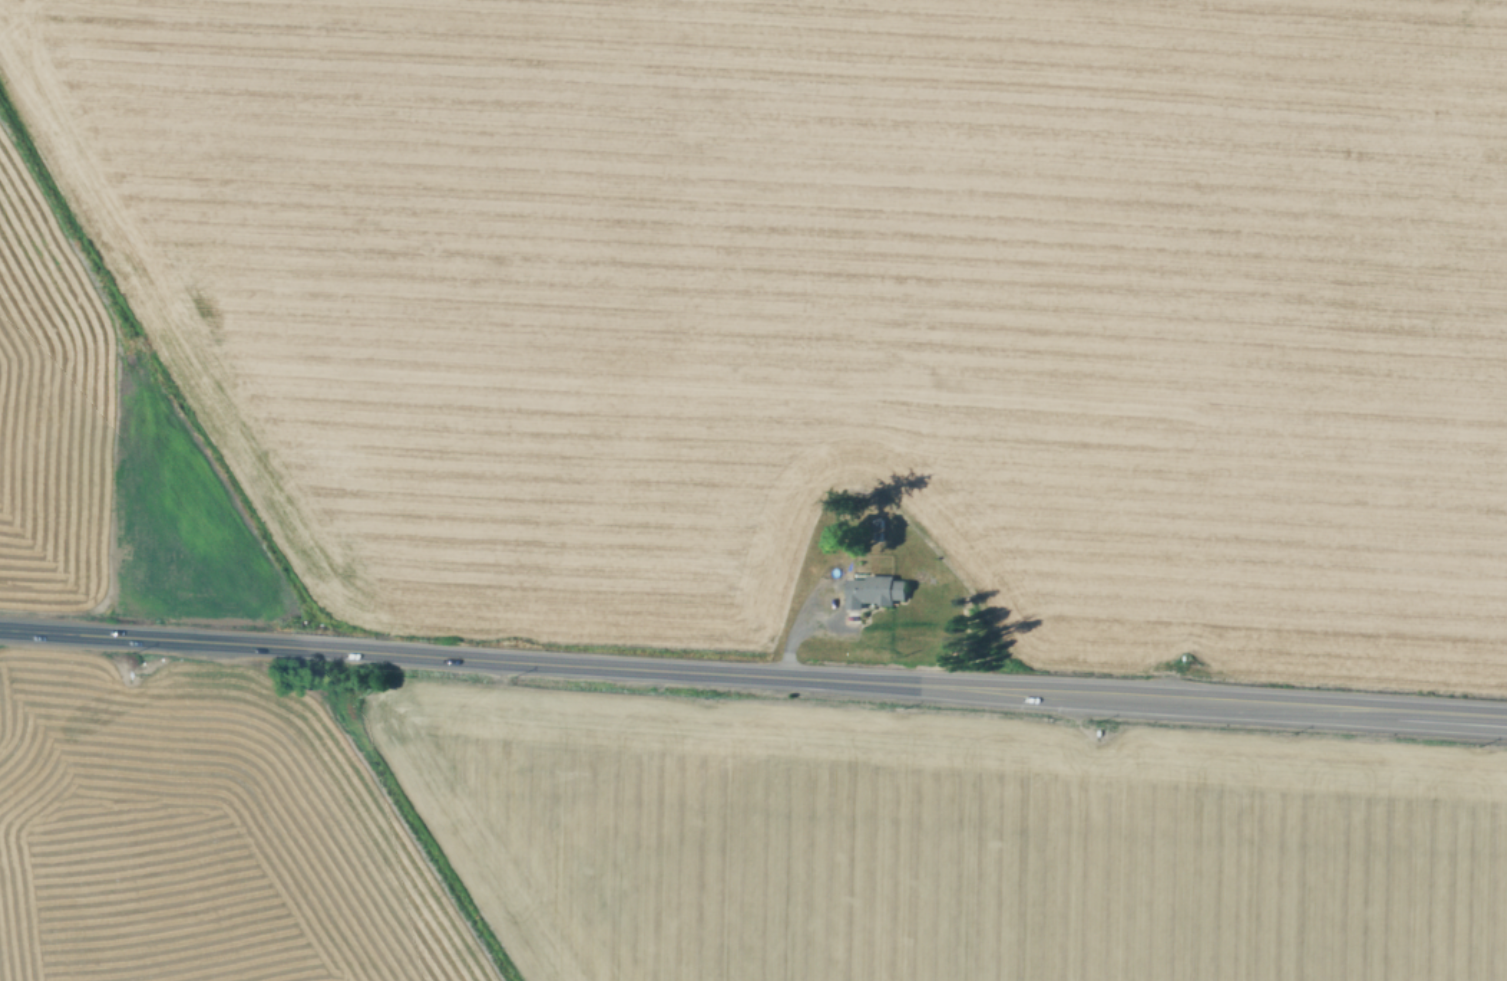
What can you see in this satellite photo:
crop: (834, 303)
crop: (95, 473)
building: (880, 521)
building: (875, 590)
road: (799, 625)
road: (753, 672)
crop: (709, 840)

